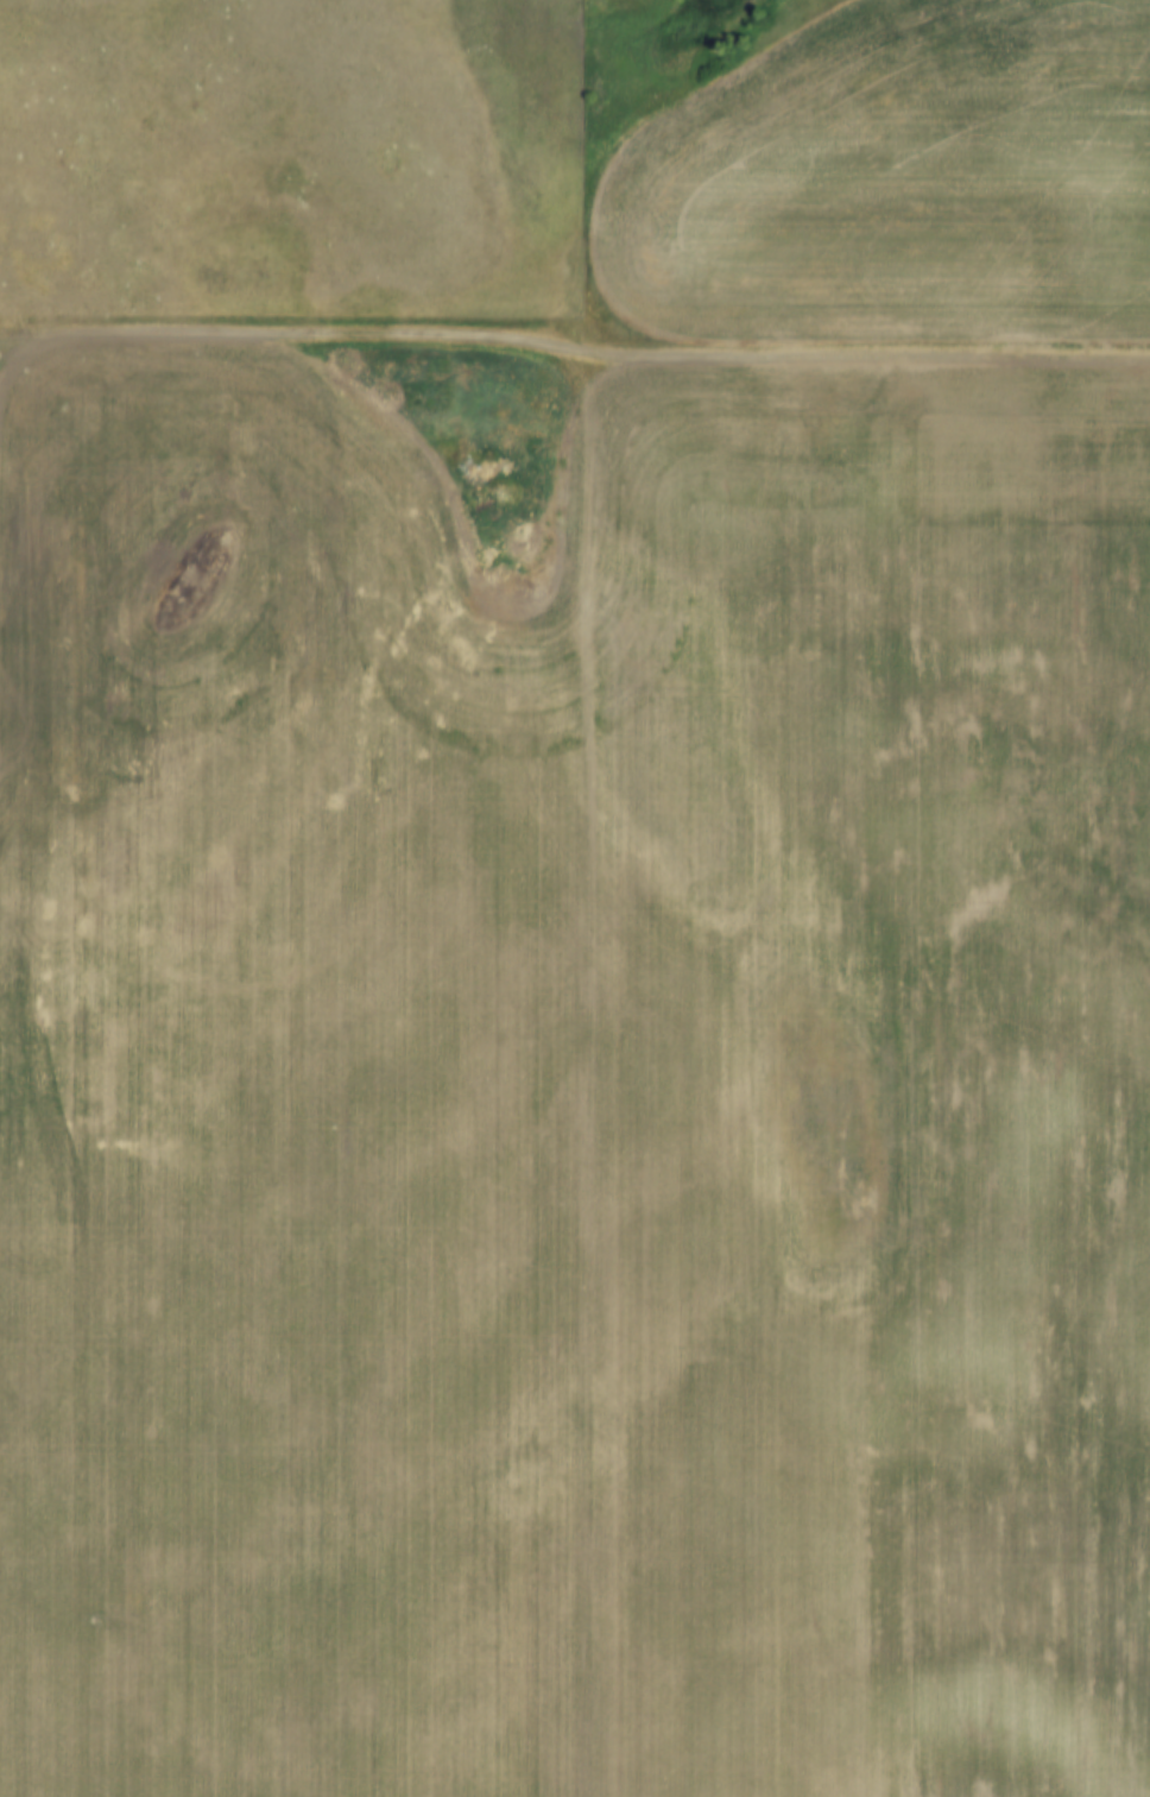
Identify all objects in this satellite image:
road: (574, 348)
road: (587, 447)

